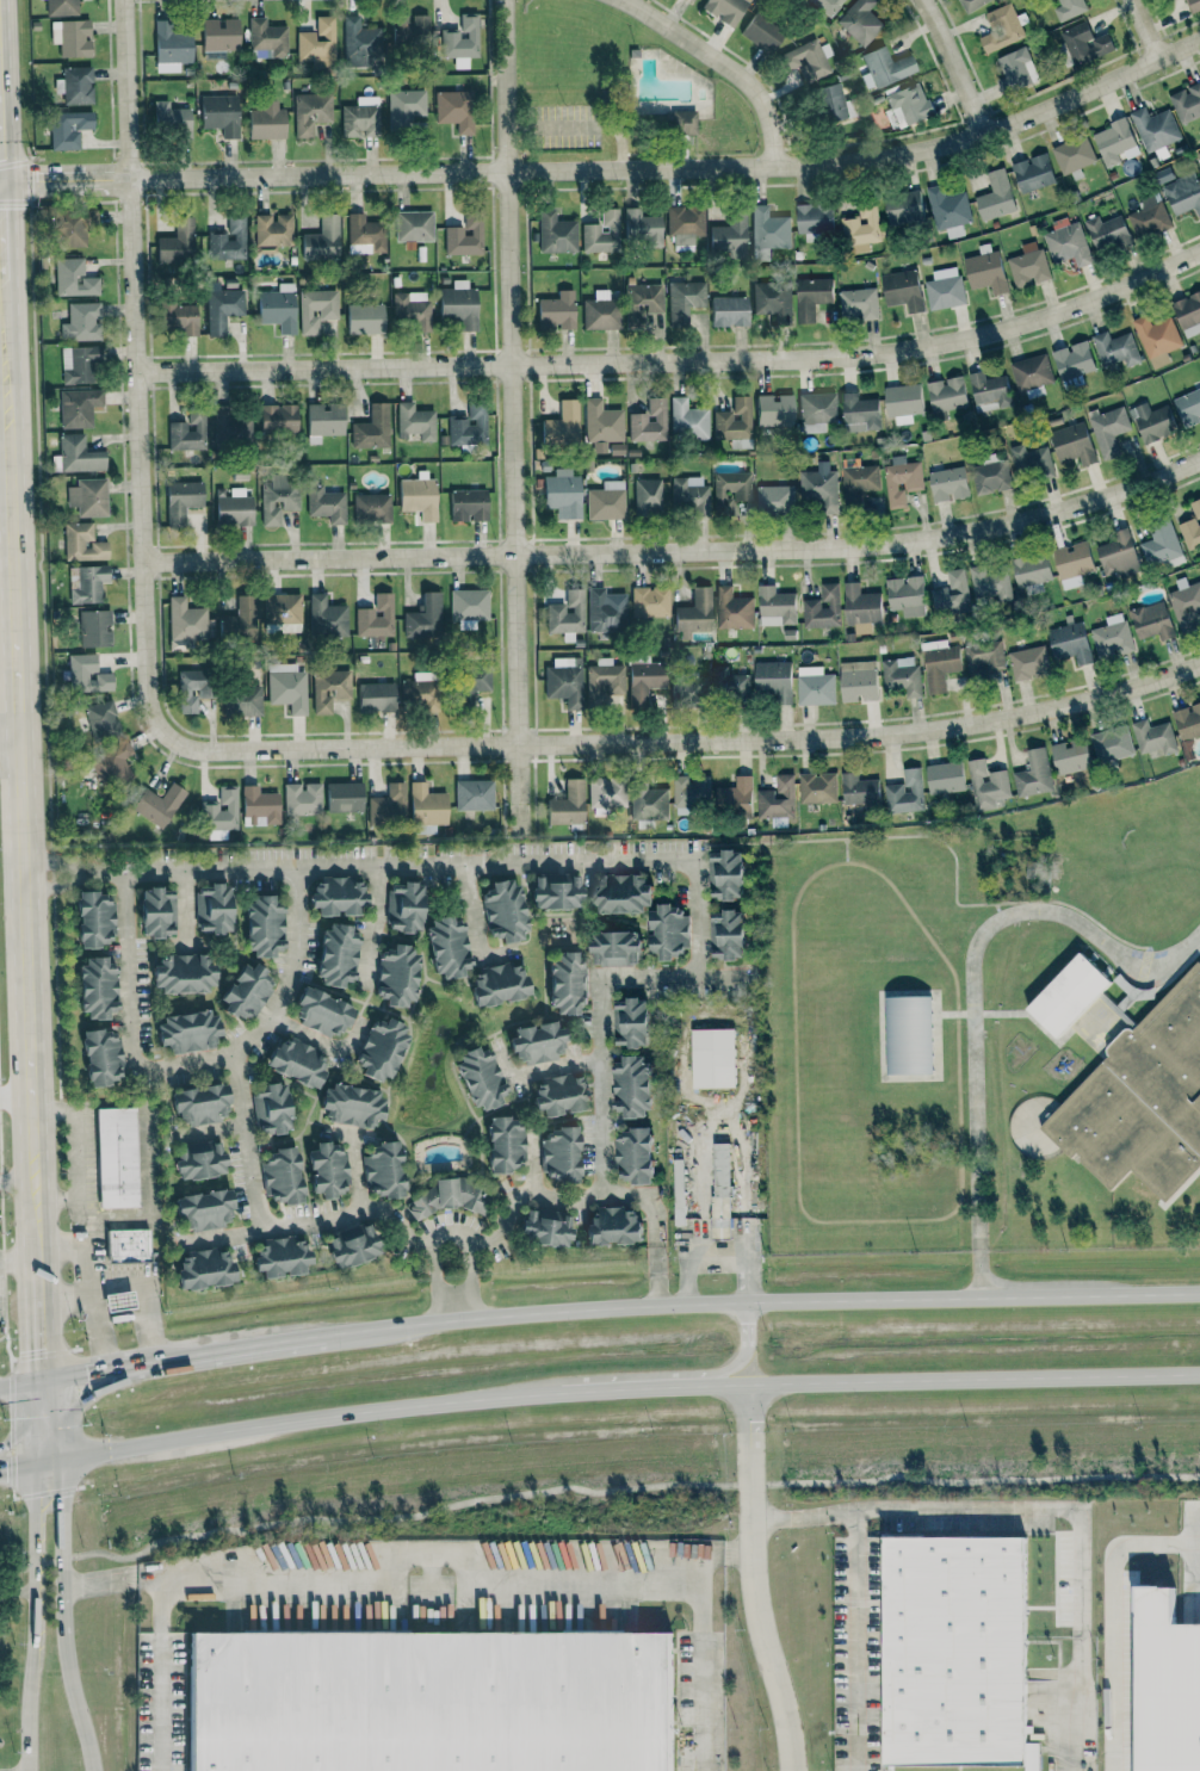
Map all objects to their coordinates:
building: (689, 0)
building: (1171, 0)
building: (972, 4)
building: (1193, 5)
building: (827, 6)
building: (62, 7)
building: (1069, 8)
building: (725, 10)
building: (861, 21)
building: (412, 29)
building: (1002, 29)
road: (1143, 30)
building: (762, 32)
building: (219, 35)
building: (72, 37)
building: (267, 39)
building: (462, 41)
building: (360, 43)
building: (317, 44)
building: (1085, 44)
building: (171, 45)
park: (569, 48)
building: (806, 61)
road: (720, 64)
road: (951, 66)
building: (885, 68)
building: (1017, 69)
building: (75, 85)
park: (618, 88)
building: (1187, 103)
building: (909, 104)
building: (404, 107)
building: (454, 110)
building: (311, 112)
building: (221, 114)
building: (171, 118)
building: (360, 120)
building: (266, 123)
building: (683, 123)
parking lot: (563, 126)
road: (579, 126)
building: (69, 129)
building: (1155, 129)
building: (1115, 143)
building: (1074, 155)
building: (1198, 156)
road: (678, 169)
building: (1033, 173)
road: (67, 178)
building: (1183, 193)
building: (996, 196)
building: (904, 209)
building: (948, 211)
building: (1149, 217)
building: (815, 218)
building: (686, 221)
building: (414, 225)
building: (861, 225)
building: (74, 227)
building: (643, 228)
building: (273, 229)
building: (769, 229)
building: (556, 233)
building: (601, 233)
building: (1108, 233)
building: (365, 235)
building: (464, 237)
building: (730, 237)
building: (323, 240)
building: (178, 241)
building: (229, 241)
road: (1, 242)
building: (1068, 244)
building: (1028, 265)
building: (986, 271)
building: (74, 278)
building: (945, 289)
building: (903, 290)
building: (811, 297)
building: (685, 301)
building: (773, 302)
building: (642, 303)
building: (858, 304)
building: (459, 305)
building: (222, 308)
building: (278, 308)
building: (316, 309)
building: (412, 310)
building: (557, 311)
building: (600, 311)
building: (729, 311)
building: (1188, 314)
building: (180, 317)
building: (365, 318)
building: (82, 322)
building: (1157, 336)
building: (1115, 349)
road: (676, 359)
building: (1074, 363)
building: (78, 364)
building: (1032, 372)
building: (989, 391)
building: (947, 394)
road: (141, 396)
building: (903, 402)
building: (78, 407)
building: (1188, 408)
building: (774, 410)
building: (817, 411)
building: (860, 413)
road: (509, 416)
building: (278, 419)
building: (688, 420)
building: (323, 421)
building: (563, 421)
building: (649, 421)
building: (414, 422)
building: (1153, 422)
building: (735, 423)
building: (601, 425)
building: (469, 426)
building: (230, 427)
building: (372, 428)
building: (1108, 431)
building: (187, 432)
building: (1074, 444)
building: (78, 454)
building: (1031, 462)
building: (991, 477)
building: (902, 481)
building: (948, 484)
building: (860, 487)
building: (819, 489)
building: (731, 490)
building: (562, 493)
building: (691, 495)
building: (648, 496)
building: (88, 497)
building: (278, 497)
building: (419, 497)
building: (181, 500)
building: (774, 500)
building: (606, 501)
building: (326, 504)
building: (468, 504)
building: (233, 507)
building: (372, 508)
building: (1192, 527)
building: (82, 543)
road: (675, 544)
building: (1161, 545)
building: (1118, 555)
building: (1074, 563)
building: (1032, 572)
building: (991, 582)
building: (86, 583)
building: (907, 595)
building: (952, 596)
building: (650, 601)
building: (1186, 603)
building: (469, 605)
building: (777, 607)
building: (823, 608)
building: (861, 608)
building: (734, 609)
building: (283, 611)
building: (606, 611)
building: (567, 613)
building: (694, 614)
building: (376, 617)
building: (425, 617)
building: (326, 618)
building: (240, 619)
building: (1151, 621)
building: (186, 623)
building: (94, 628)
building: (1112, 637)
building: (1070, 643)
building: (985, 657)
building: (1029, 662)
building: (939, 664)
building: (87, 674)
building: (902, 676)
building: (605, 677)
building: (565, 681)
building: (644, 681)
building: (774, 681)
building: (859, 681)
building: (475, 682)
building: (730, 685)
building: (815, 686)
building: (287, 687)
building: (193, 688)
building: (329, 688)
building: (689, 689)
building: (420, 692)
building: (376, 696)
building: (245, 700)
building: (101, 718)
building: (1188, 722)
road: (23, 729)
road: (717, 732)
building: (1155, 737)
building: (1112, 744)
road: (12, 745)
building: (1071, 756)
building: (110, 761)
building: (1034, 774)
building: (945, 778)
building: (988, 785)
building: (817, 788)
building: (859, 789)
building: (905, 793)
building: (474, 794)
building: (689, 795)
building: (344, 797)
building: (735, 798)
building: (302, 799)
building: (778, 799)
building: (649, 803)
building: (159, 804)
building: (568, 804)
building: (388, 805)
building: (259, 806)
building: (427, 809)
building: (221, 810)
road: (601, 860)
road: (58, 871)
building: (726, 875)
building: (555, 891)
building: (621, 893)
building: (338, 897)
road: (184, 908)
building: (212, 908)
building: (404, 908)
road: (474, 908)
building: (503, 911)
building: (157, 912)
building: (94, 918)
road: (372, 924)
building: (264, 927)
building: (669, 933)
building: (728, 936)
building: (447, 947)
building: (617, 948)
building: (336, 954)
building: (183, 973)
building: (397, 976)
building: (567, 983)
building: (497, 984)
road: (970, 984)
building: (97, 987)
building: (247, 991)
building: (1069, 995)
building: (323, 1013)
building: (632, 1023)
building: (187, 1032)
building: (909, 1036)
road: (320, 1038)
building: (536, 1044)
building: (381, 1048)
building: (103, 1057)
road: (192, 1058)
building: (713, 1058)
building: (296, 1061)
road: (544, 1067)
building: (480, 1078)
building: (633, 1088)
road: (18, 1094)
building: (559, 1095)
building: (1142, 1101)
building: (199, 1104)
building: (351, 1106)
building: (271, 1109)
building: (505, 1144)
road: (737, 1148)
road: (79, 1151)
building: (559, 1154)
building: (635, 1156)
building: (117, 1157)
building: (199, 1160)
road: (533, 1160)
building: (327, 1169)
building: (383, 1169)
road: (355, 1172)
building: (282, 1175)
road: (19, 1179)
road: (250, 1181)
road: (39, 1188)
building: (722, 1190)
road: (584, 1194)
building: (449, 1196)
building: (679, 1196)
building: (204, 1209)
road: (342, 1215)
building: (613, 1226)
building: (545, 1228)
road: (41, 1238)
road: (476, 1238)
road: (432, 1239)
building: (128, 1244)
building: (352, 1245)
building: (282, 1257)
road: (20, 1262)
road: (744, 1267)
building: (204, 1269)
road: (655, 1275)
road: (469, 1277)
road: (435, 1281)
road: (86, 1293)
road: (64, 1294)
road: (146, 1296)
building: (118, 1301)
road: (757, 1304)
road: (43, 1327)
road: (748, 1329)
road: (246, 1345)
road: (157, 1361)
road: (92, 1370)
traffic signals: (89, 1371)
road: (700, 1375)
road: (23, 1381)
road: (926, 1381)
road: (89, 1393)
traffic signals: (88, 1394)
road: (606, 1394)
road: (47, 1419)
road: (302, 1422)
road: (748, 1428)
road: (23, 1430)
traffic signals: (5, 1447)
road: (23, 1466)
traffic signals: (7, 1469)
traffic signals: (62, 1487)
road: (594, 1492)
road: (1043, 1510)
road: (403, 1554)
road: (35, 1616)
road: (61, 1616)
road: (1113, 1618)
road: (760, 1621)
road: (853, 1641)
building: (954, 1651)
road: (698, 1662)
road: (159, 1672)
building: (1168, 1685)
building: (429, 1702)

